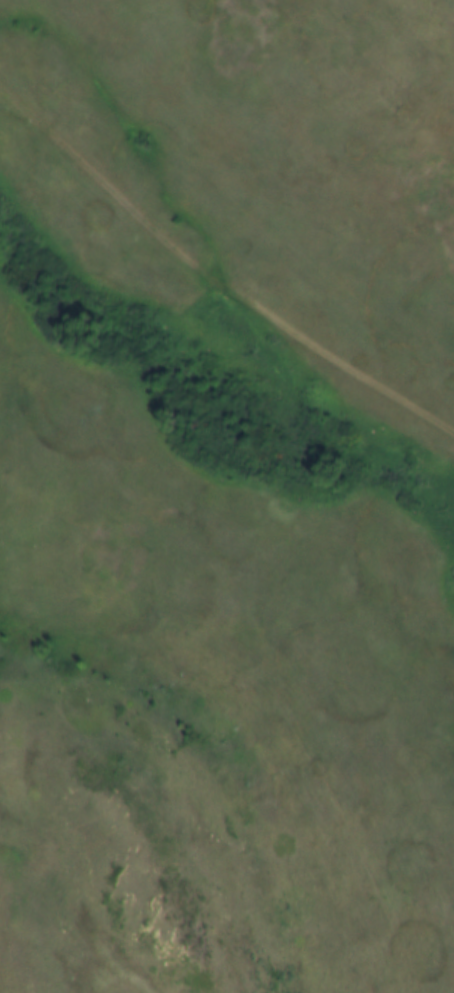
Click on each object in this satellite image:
road: (211, 276)

